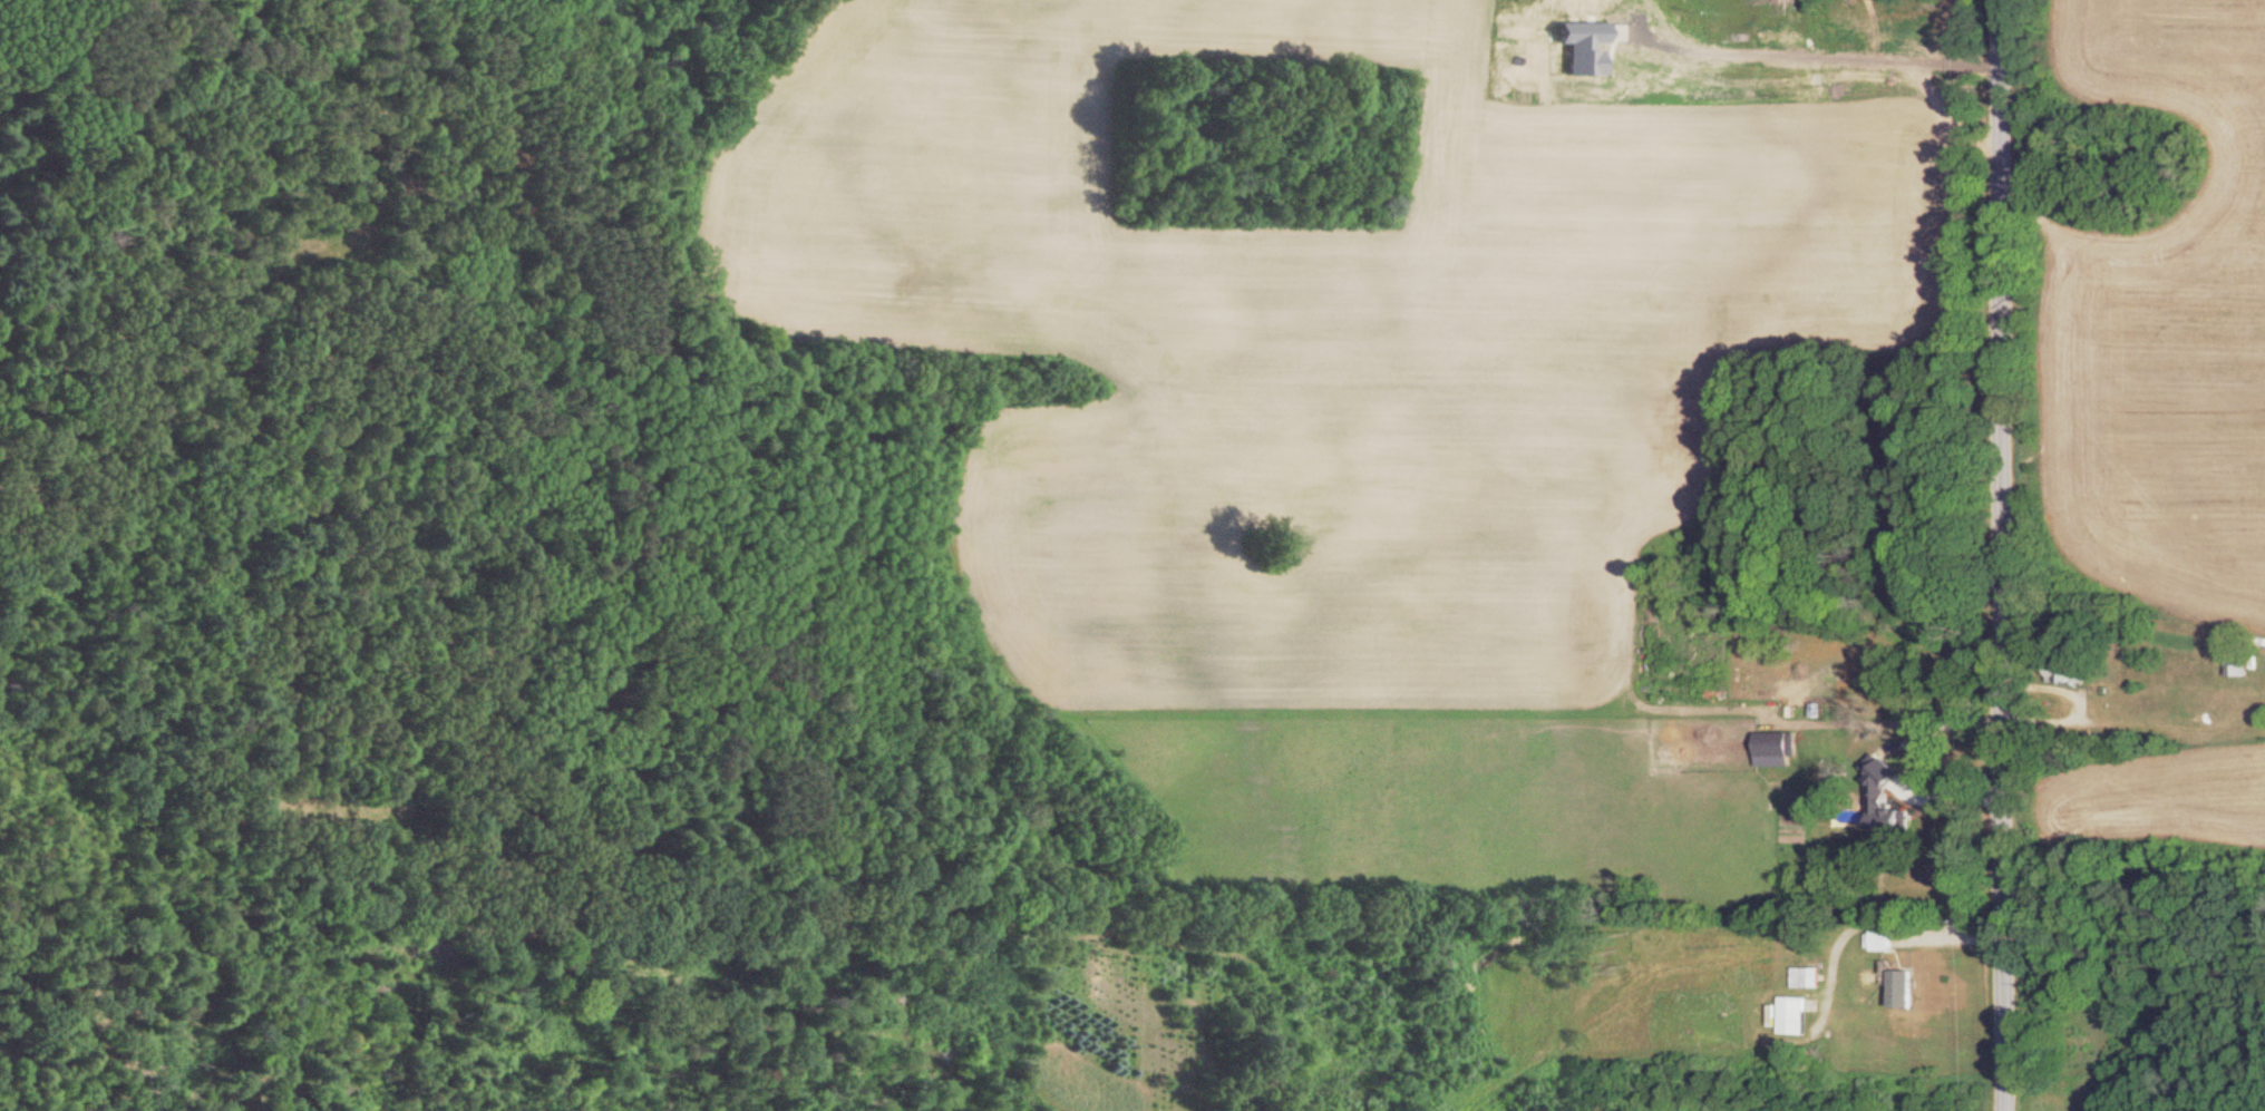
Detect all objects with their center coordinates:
building: (1933, 4)
road: (1815, 60)
road: (1991, 555)
building: (2238, 665)
building: (2071, 674)
building: (1778, 748)
building: (1883, 751)
road: (1921, 757)
building: (1894, 827)
road: (1884, 919)
building: (1883, 943)
building: (1807, 982)
building: (1903, 993)
building: (1795, 1019)

